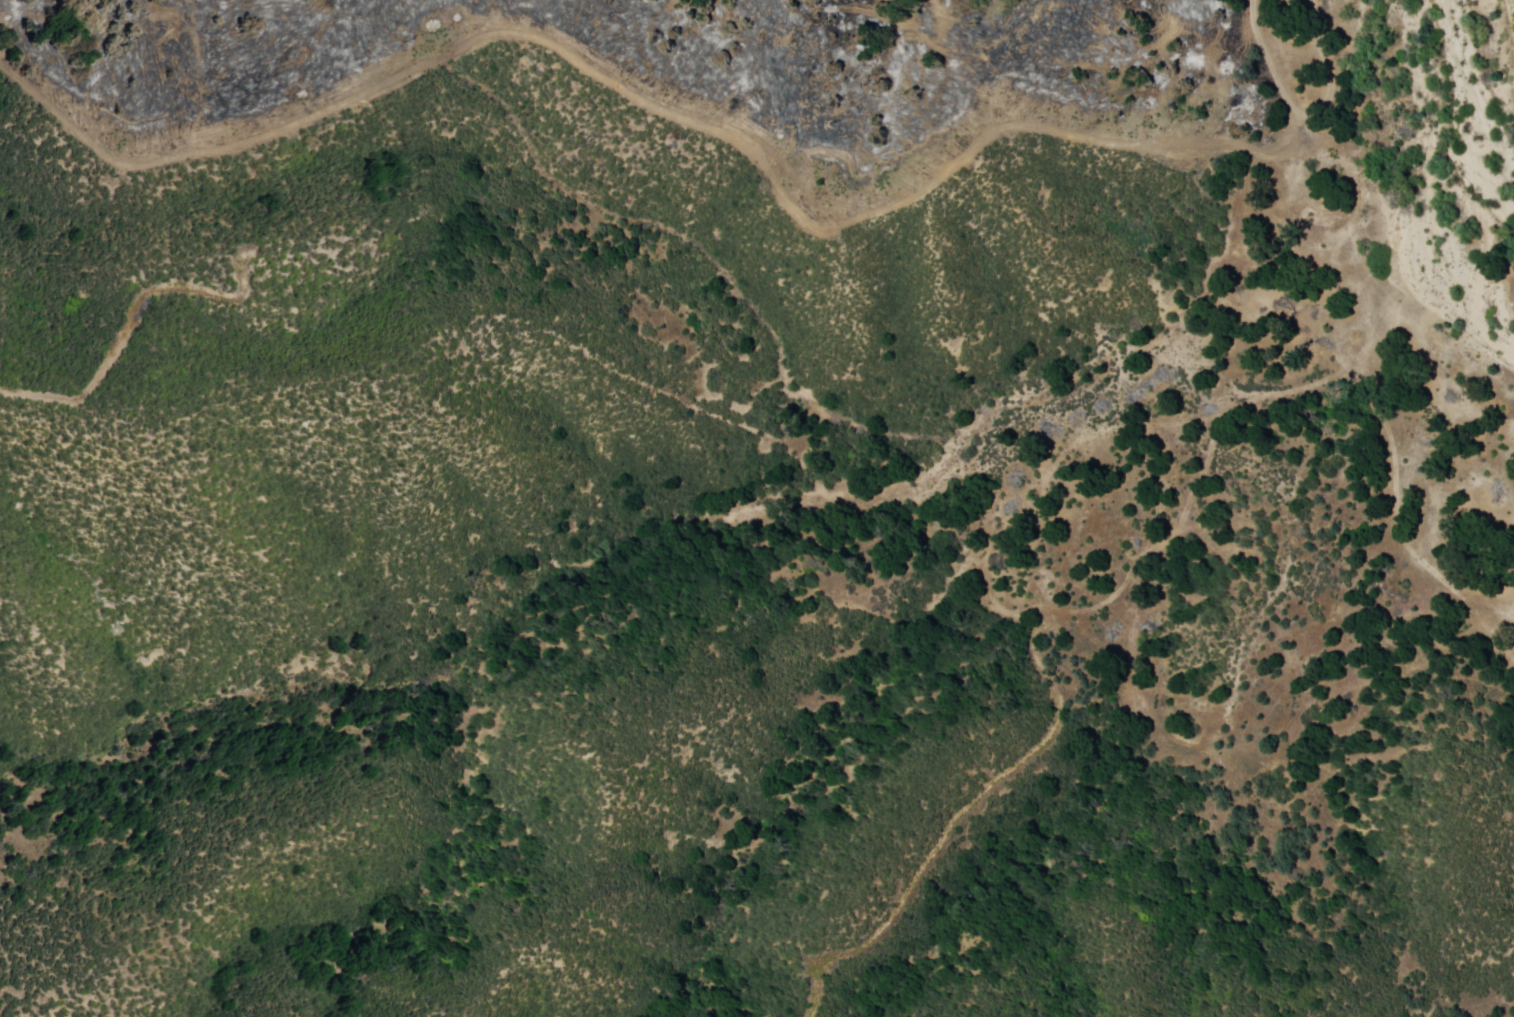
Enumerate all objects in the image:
road: (1510, 15)
road: (1333, 339)

